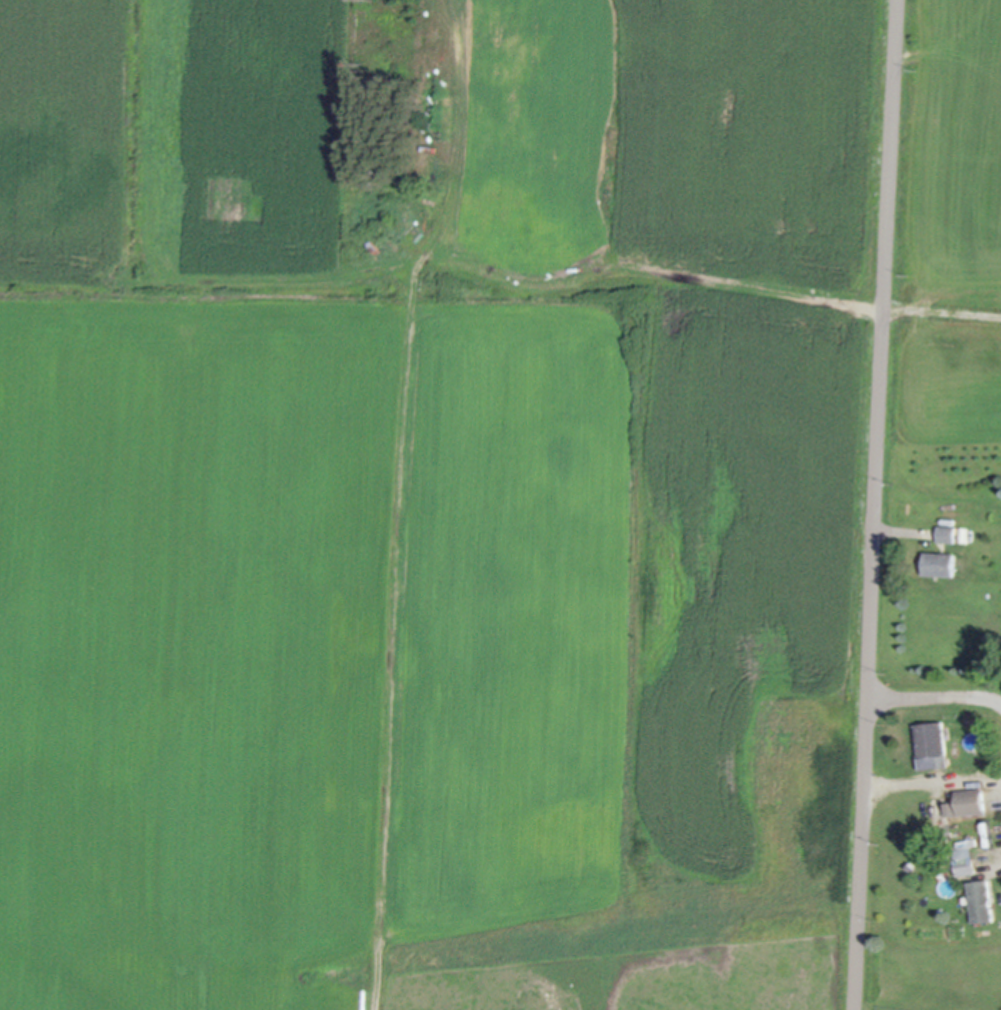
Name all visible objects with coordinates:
road: (872, 504)
building: (946, 532)
building: (938, 562)
road: (933, 693)
building: (931, 744)
building: (967, 801)
building: (963, 859)
building: (980, 899)

